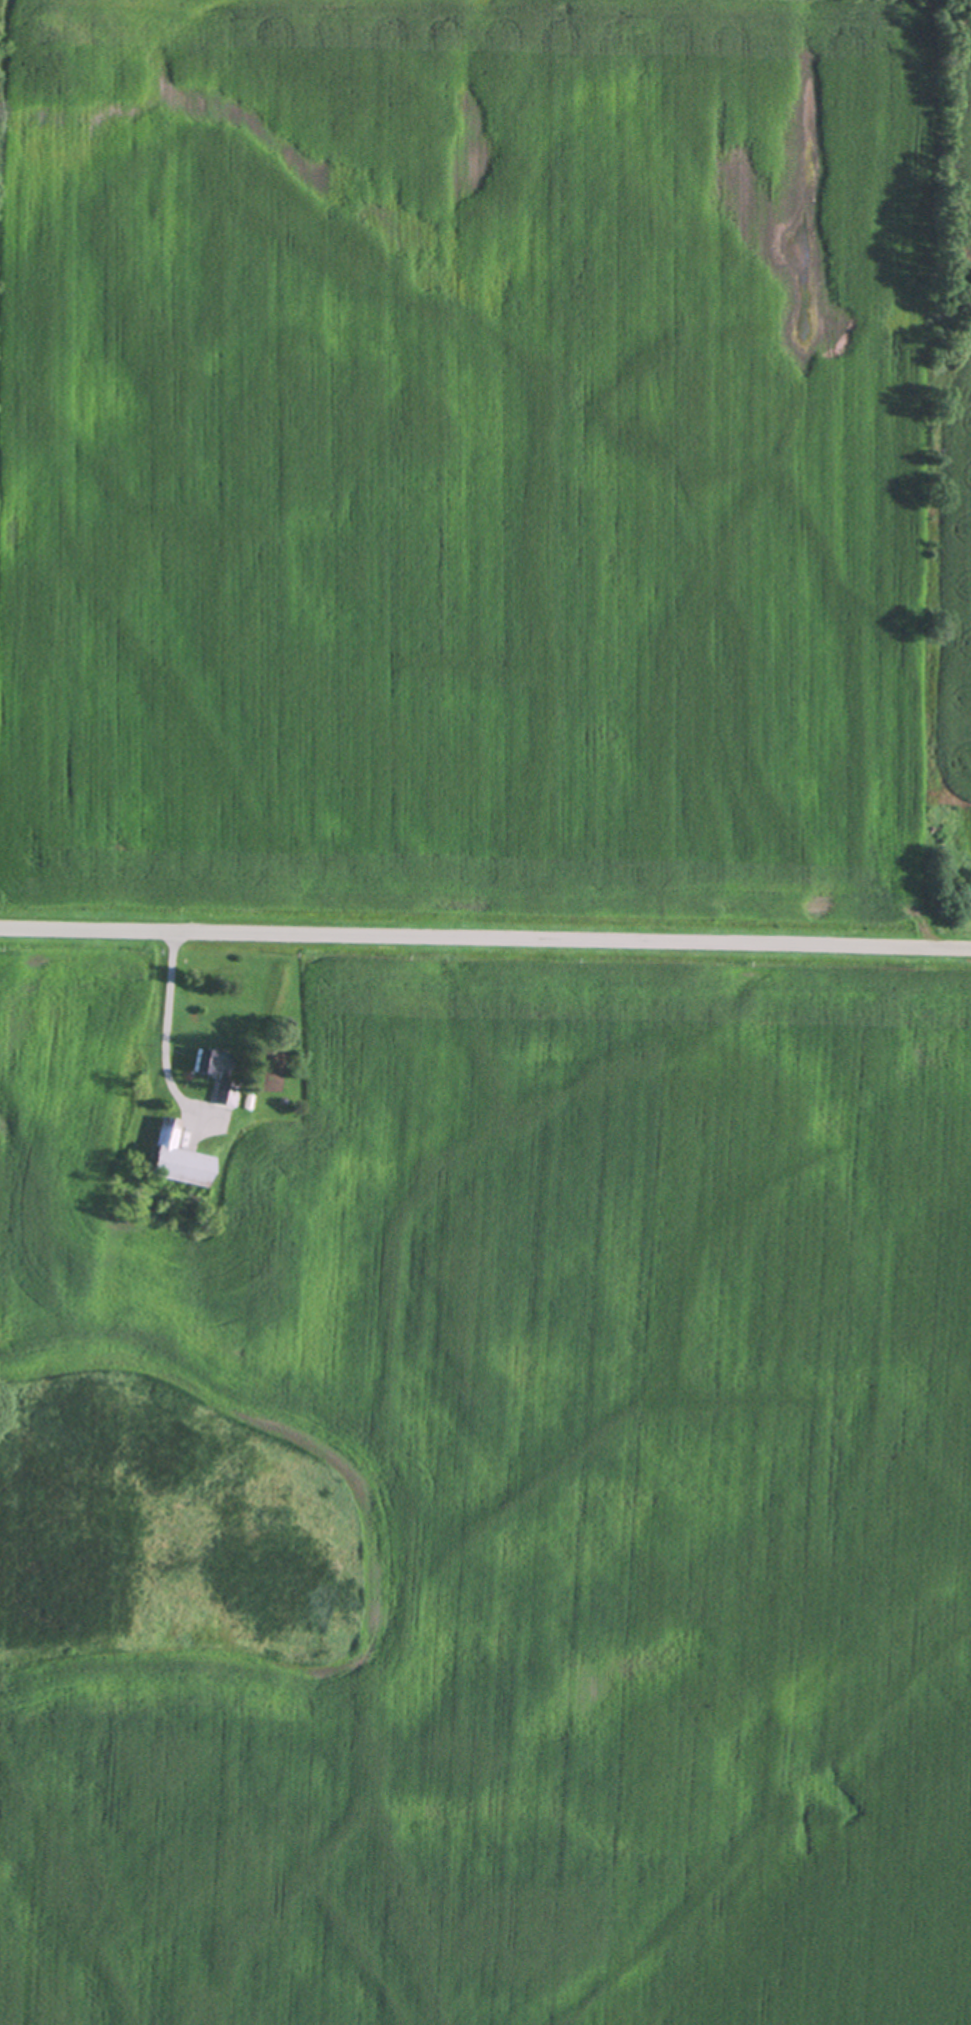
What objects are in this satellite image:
road: (485, 939)
road: (161, 1028)
building: (196, 1062)
building: (220, 1093)
building: (177, 1163)

